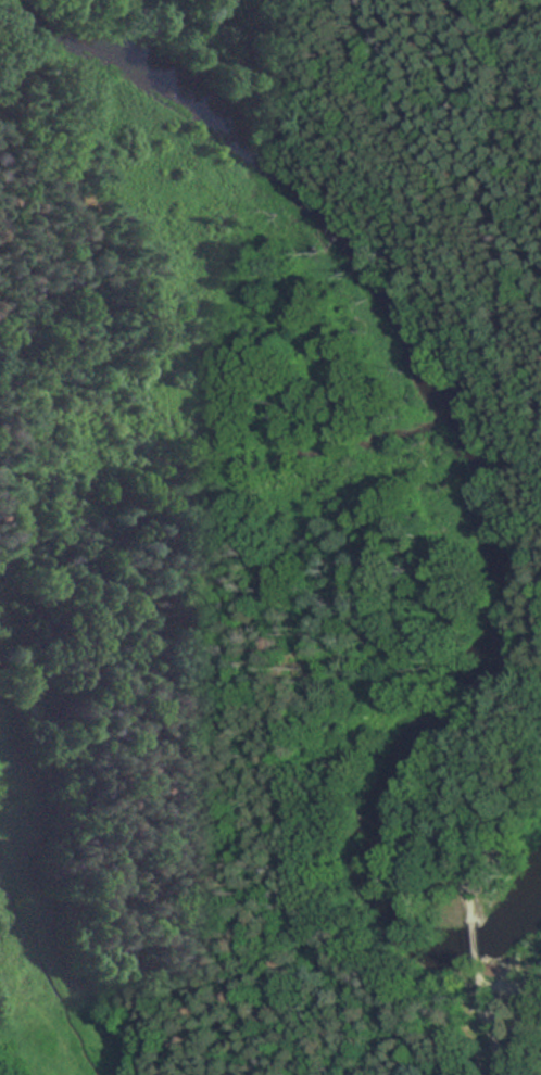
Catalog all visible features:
river: (468, 464)

